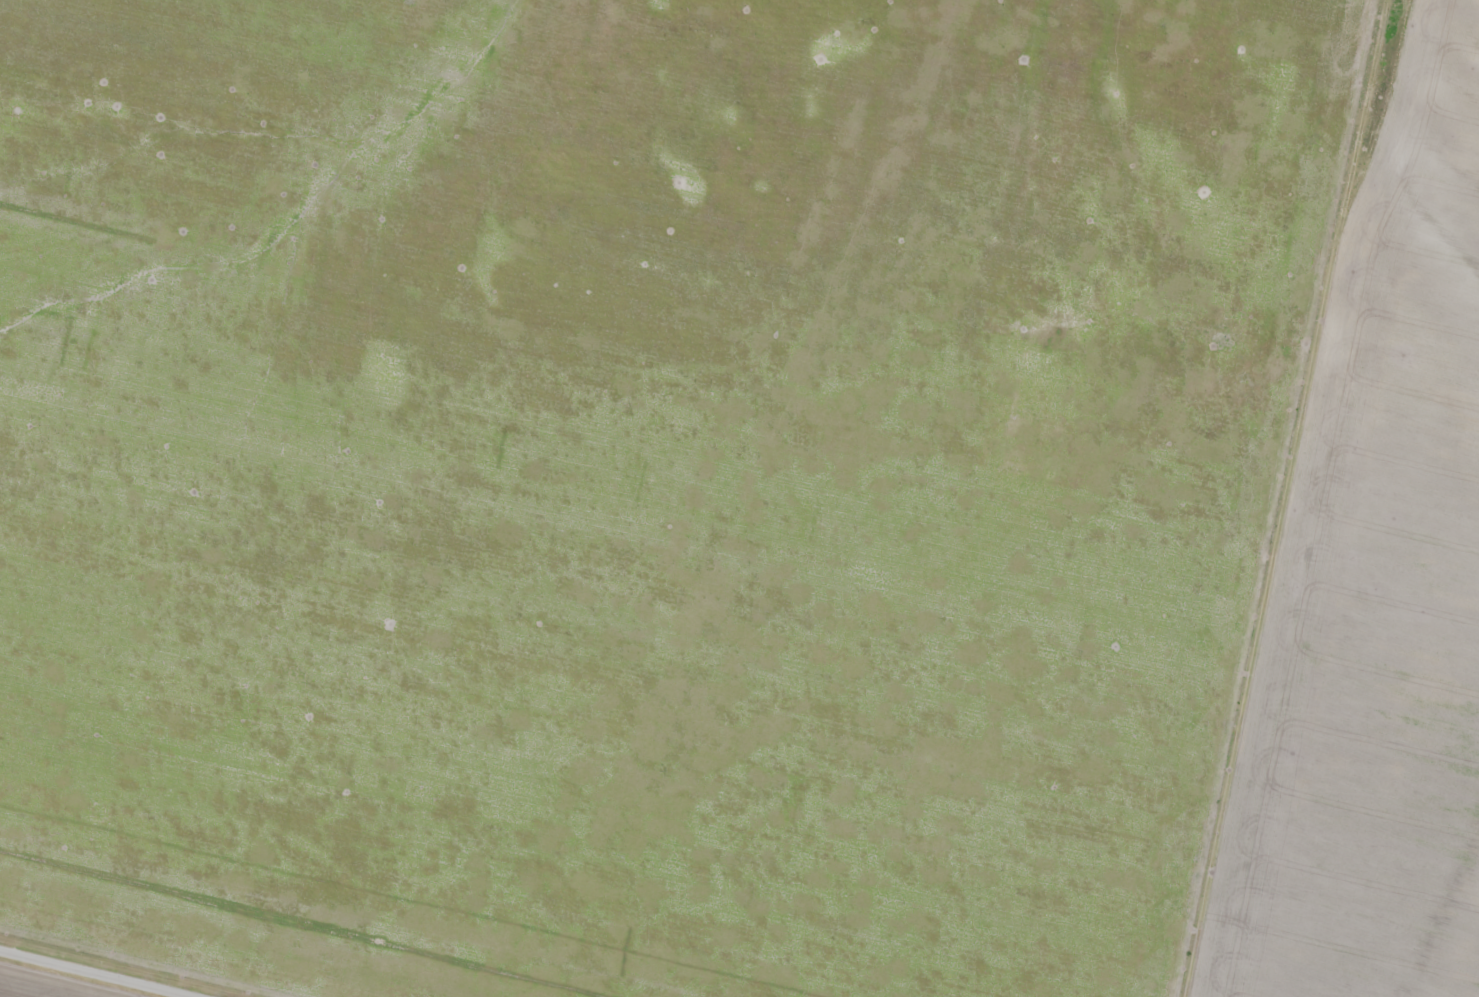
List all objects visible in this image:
road: (102, 973)

